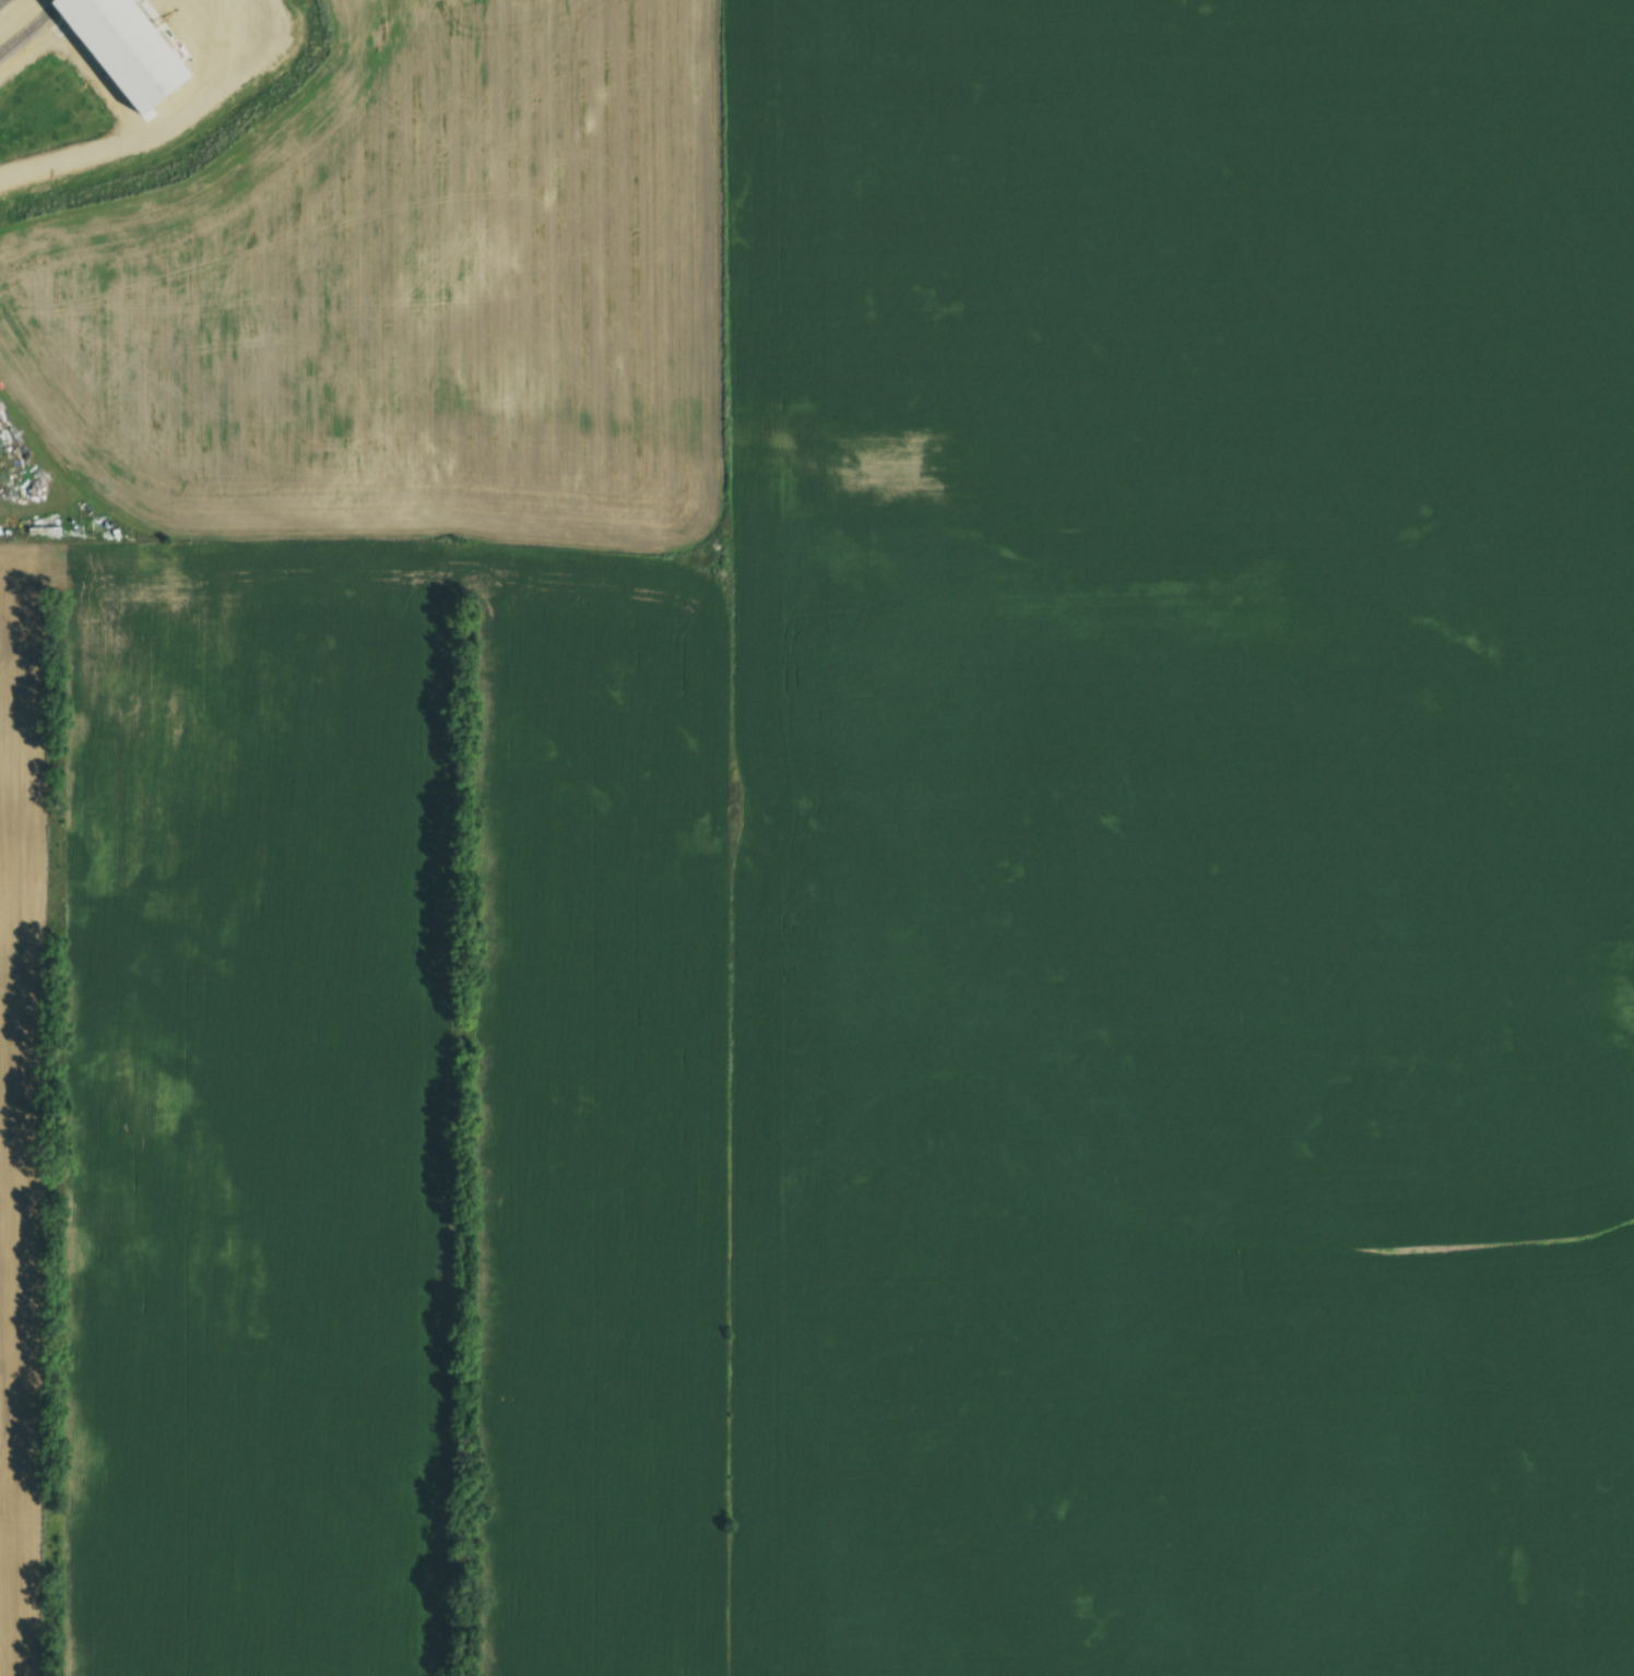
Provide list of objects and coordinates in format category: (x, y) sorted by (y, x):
crop: (374, 271)

